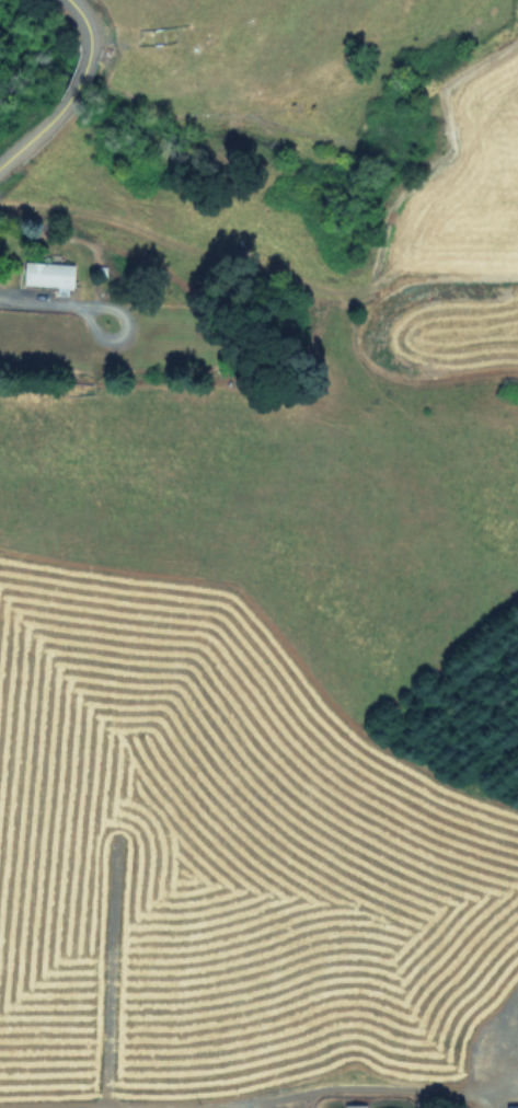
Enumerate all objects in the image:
road: (80, 16)
road: (78, 81)
road: (26, 139)
building: (48, 275)
road: (37, 300)
crop: (260, 567)
road: (350, 1089)
road: (260, 1104)
building: (353, 1105)
building: (510, 1106)
building: (392, 1107)

